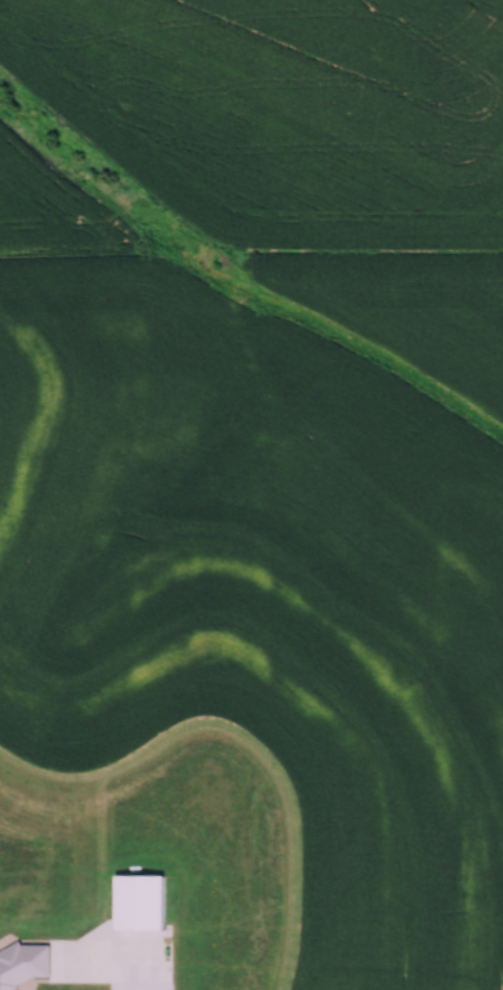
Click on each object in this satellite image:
road: (132, 988)

